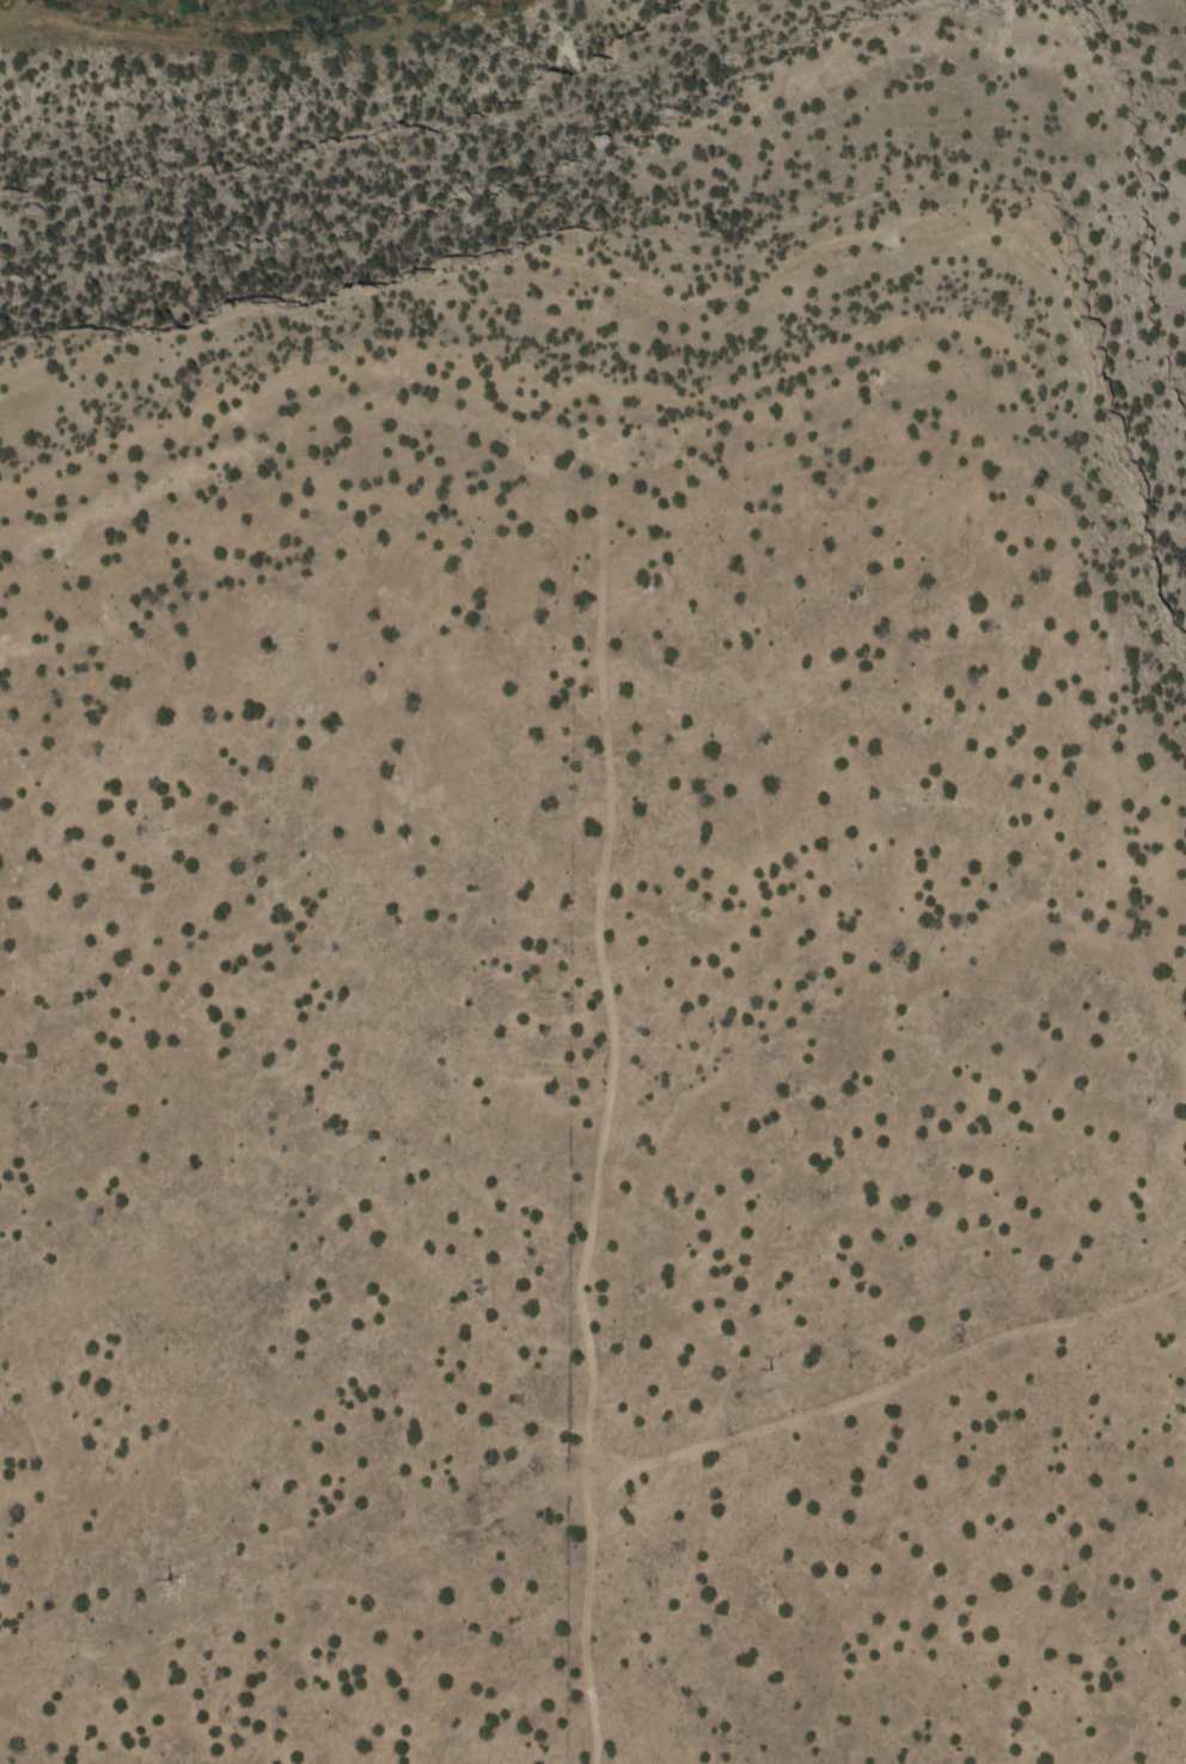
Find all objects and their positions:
road: (753, 1429)

